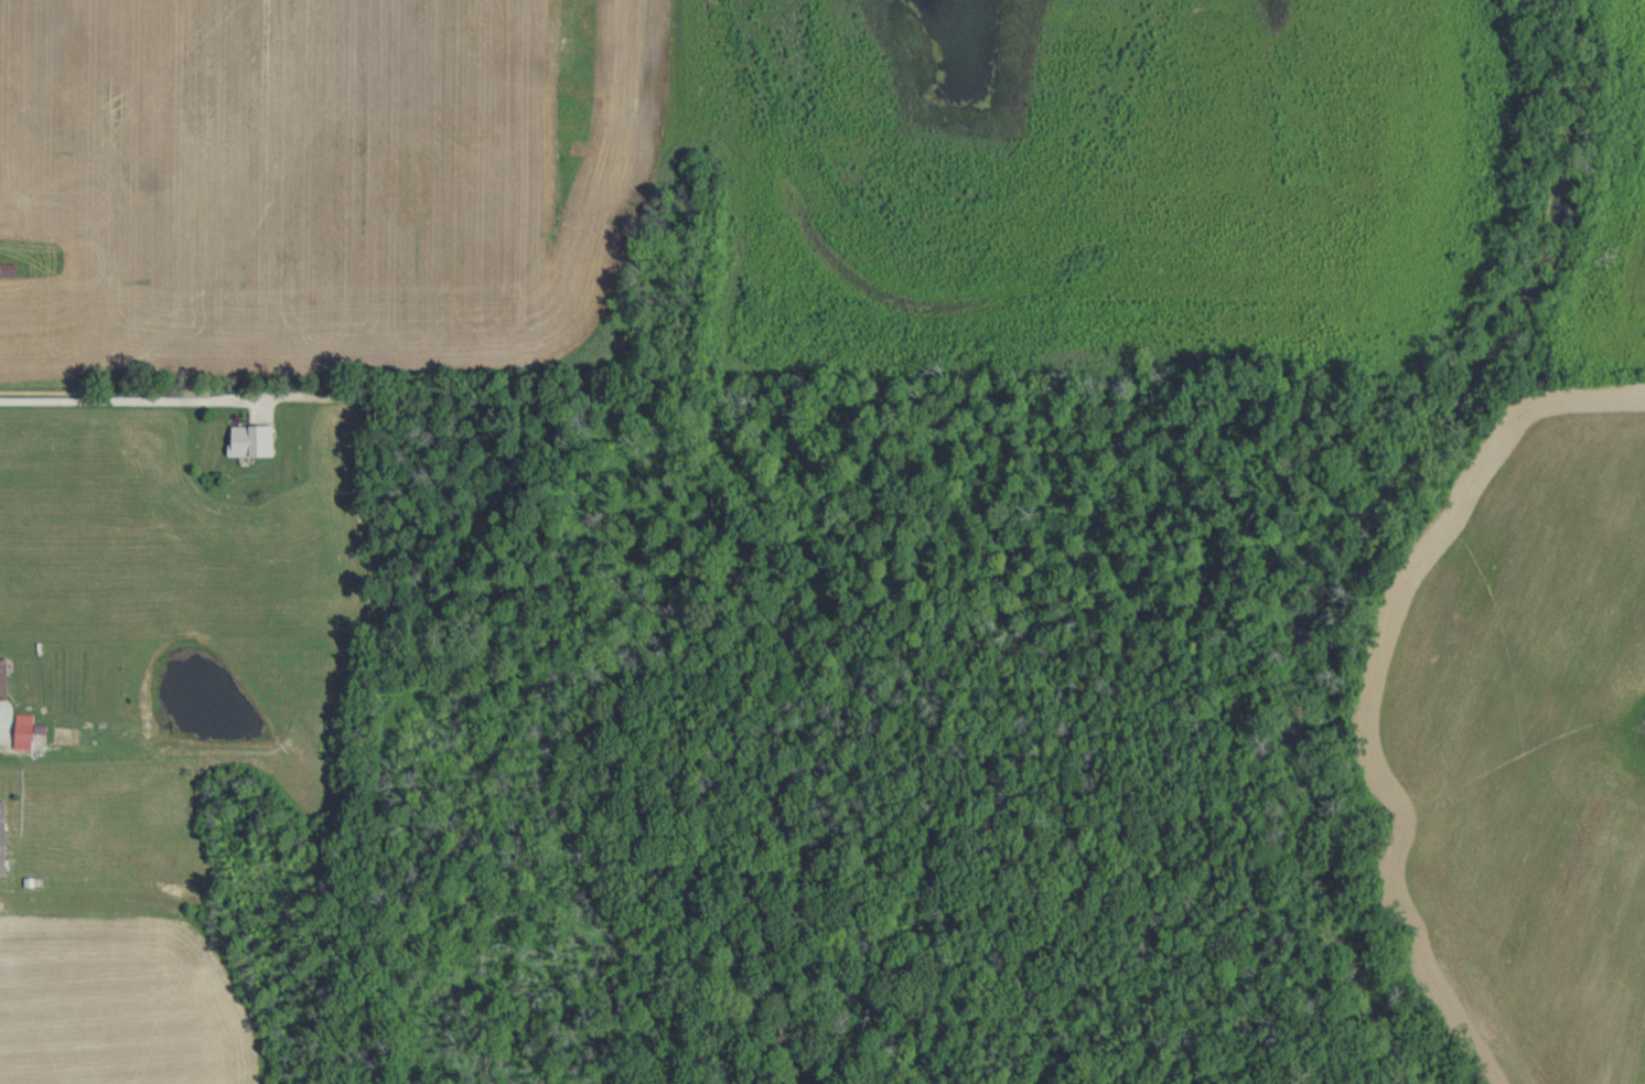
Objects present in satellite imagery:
road: (130, 408)
building: (249, 439)
river: (1323, 537)
building: (2, 676)
building: (23, 726)
building: (2, 838)

